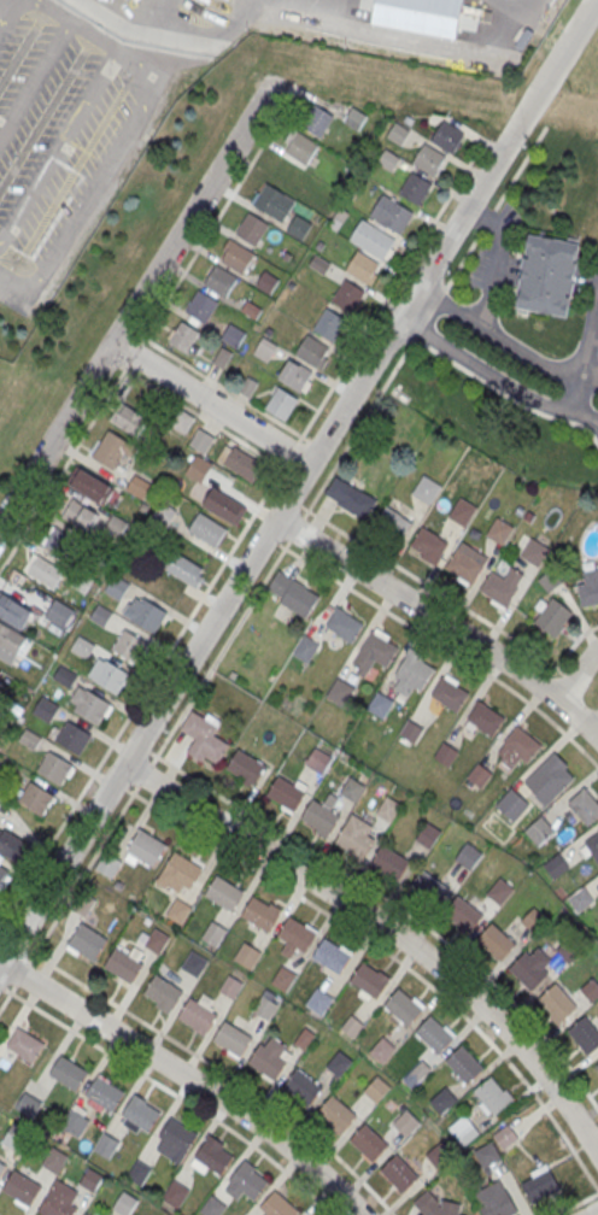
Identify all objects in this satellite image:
road: (164, 2)
road: (517, 6)
park: (585, 75)
road: (105, 116)
building: (356, 119)
building: (317, 122)
building: (399, 134)
road: (475, 136)
building: (447, 137)
building: (303, 148)
building: (429, 159)
building: (388, 160)
road: (520, 166)
building: (287, 174)
building: (416, 189)
building: (315, 201)
building: (274, 202)
road: (219, 215)
building: (392, 215)
road: (488, 218)
building: (299, 228)
building: (253, 229)
building: (371, 240)
building: (238, 257)
road: (464, 258)
park: (109, 264)
building: (362, 268)
building: (547, 274)
building: (221, 281)
building: (266, 283)
building: (348, 297)
road: (137, 301)
building: (203, 306)
road: (428, 315)
building: (330, 325)
building: (233, 336)
building: (183, 337)
road: (504, 339)
building: (264, 350)
building: (312, 352)
road: (133, 353)
road: (586, 357)
road: (494, 375)
building: (297, 376)
road: (210, 404)
building: (282, 404)
building: (129, 419)
building: (182, 421)
road: (356, 429)
building: (201, 441)
building: (113, 450)
building: (242, 463)
road: (63, 468)
building: (198, 471)
road: (297, 481)
building: (89, 485)
building: (139, 488)
building: (426, 489)
building: (350, 498)
road: (294, 500)
building: (224, 506)
building: (462, 512)
building: (164, 515)
building: (81, 516)
building: (393, 524)
road: (295, 528)
building: (207, 530)
building: (499, 532)
road: (241, 533)
road: (271, 538)
building: (63, 545)
building: (429, 545)
building: (535, 553)
building: (465, 568)
building: (186, 570)
building: (43, 571)
building: (82, 582)
road: (432, 587)
building: (117, 588)
building: (588, 588)
building: (498, 589)
building: (293, 595)
building: (13, 612)
building: (59, 614)
building: (101, 616)
building: (148, 616)
building: (552, 618)
road: (440, 622)
building: (345, 626)
road: (574, 644)
road: (444, 645)
building: (130, 646)
building: (82, 648)
building: (306, 650)
road: (219, 651)
building: (375, 653)
building: (0, 671)
road: (576, 674)
building: (414, 675)
building: (112, 677)
road: (573, 681)
building: (340, 693)
building: (450, 694)
road: (591, 697)
building: (92, 706)
building: (380, 706)
building: (47, 711)
building: (485, 718)
road: (594, 729)
building: (411, 732)
building: (74, 739)
building: (209, 746)
road: (142, 747)
building: (518, 747)
building: (447, 755)
building: (246, 767)
building: (54, 769)
road: (143, 774)
building: (480, 776)
building: (549, 780)
road: (119, 785)
building: (353, 790)
building: (286, 794)
building: (36, 799)
building: (0, 800)
building: (512, 805)
building: (585, 806)
building: (388, 810)
building: (319, 817)
building: (539, 832)
building: (428, 835)
building: (356, 837)
building: (12, 846)
building: (593, 846)
building: (147, 849)
building: (468, 856)
building: (389, 863)
building: (109, 865)
building: (181, 870)
road: (83, 873)
building: (4, 876)
building: (428, 890)
building: (499, 892)
building: (224, 894)
building: (83, 904)
road: (393, 906)
building: (180, 911)
building: (462, 912)
building: (260, 915)
building: (533, 921)
road: (386, 928)
building: (213, 934)
building: (297, 935)
building: (87, 941)
building: (157, 941)
building: (496, 943)
road: (20, 945)
road: (392, 955)
building: (247, 956)
building: (332, 957)
building: (194, 964)
building: (123, 967)
building: (528, 972)
road: (22, 973)
building: (285, 980)
building: (370, 981)
road: (1, 986)
building: (230, 987)
building: (163, 993)
road: (7, 996)
building: (319, 1003)
building: (557, 1003)
building: (265, 1008)
building: (404, 1008)
building: (197, 1017)
building: (351, 1027)
building: (435, 1034)
building: (585, 1035)
building: (233, 1039)
building: (24, 1046)
building: (381, 1051)
building: (266, 1062)
building: (339, 1064)
building: (464, 1064)
road: (219, 1068)
building: (597, 1068)
building: (69, 1074)
road: (187, 1079)
building: (304, 1088)
building: (376, 1090)
road: (174, 1092)
building: (105, 1094)
building: (493, 1096)
building: (28, 1105)
building: (141, 1114)
building: (336, 1115)
building: (72, 1123)
building: (404, 1127)
building: (462, 1131)
building: (177, 1135)
building: (505, 1138)
building: (17, 1140)
building: (369, 1143)
building: (106, 1146)
building: (487, 1155)
building: (438, 1156)
building: (213, 1157)
building: (54, 1162)
building: (1, 1168)
building: (139, 1173)
building: (399, 1175)
building: (90, 1181)
building: (248, 1182)
building: (20, 1188)
building: (540, 1188)
building: (175, 1195)
building: (494, 1201)
building: (124, 1204)
road: (576, 1204)
building: (277, 1205)
building: (57, 1207)
building: (442, 1207)
building: (213, 1208)
building: (83, 1214)
road: (596, 1214)

